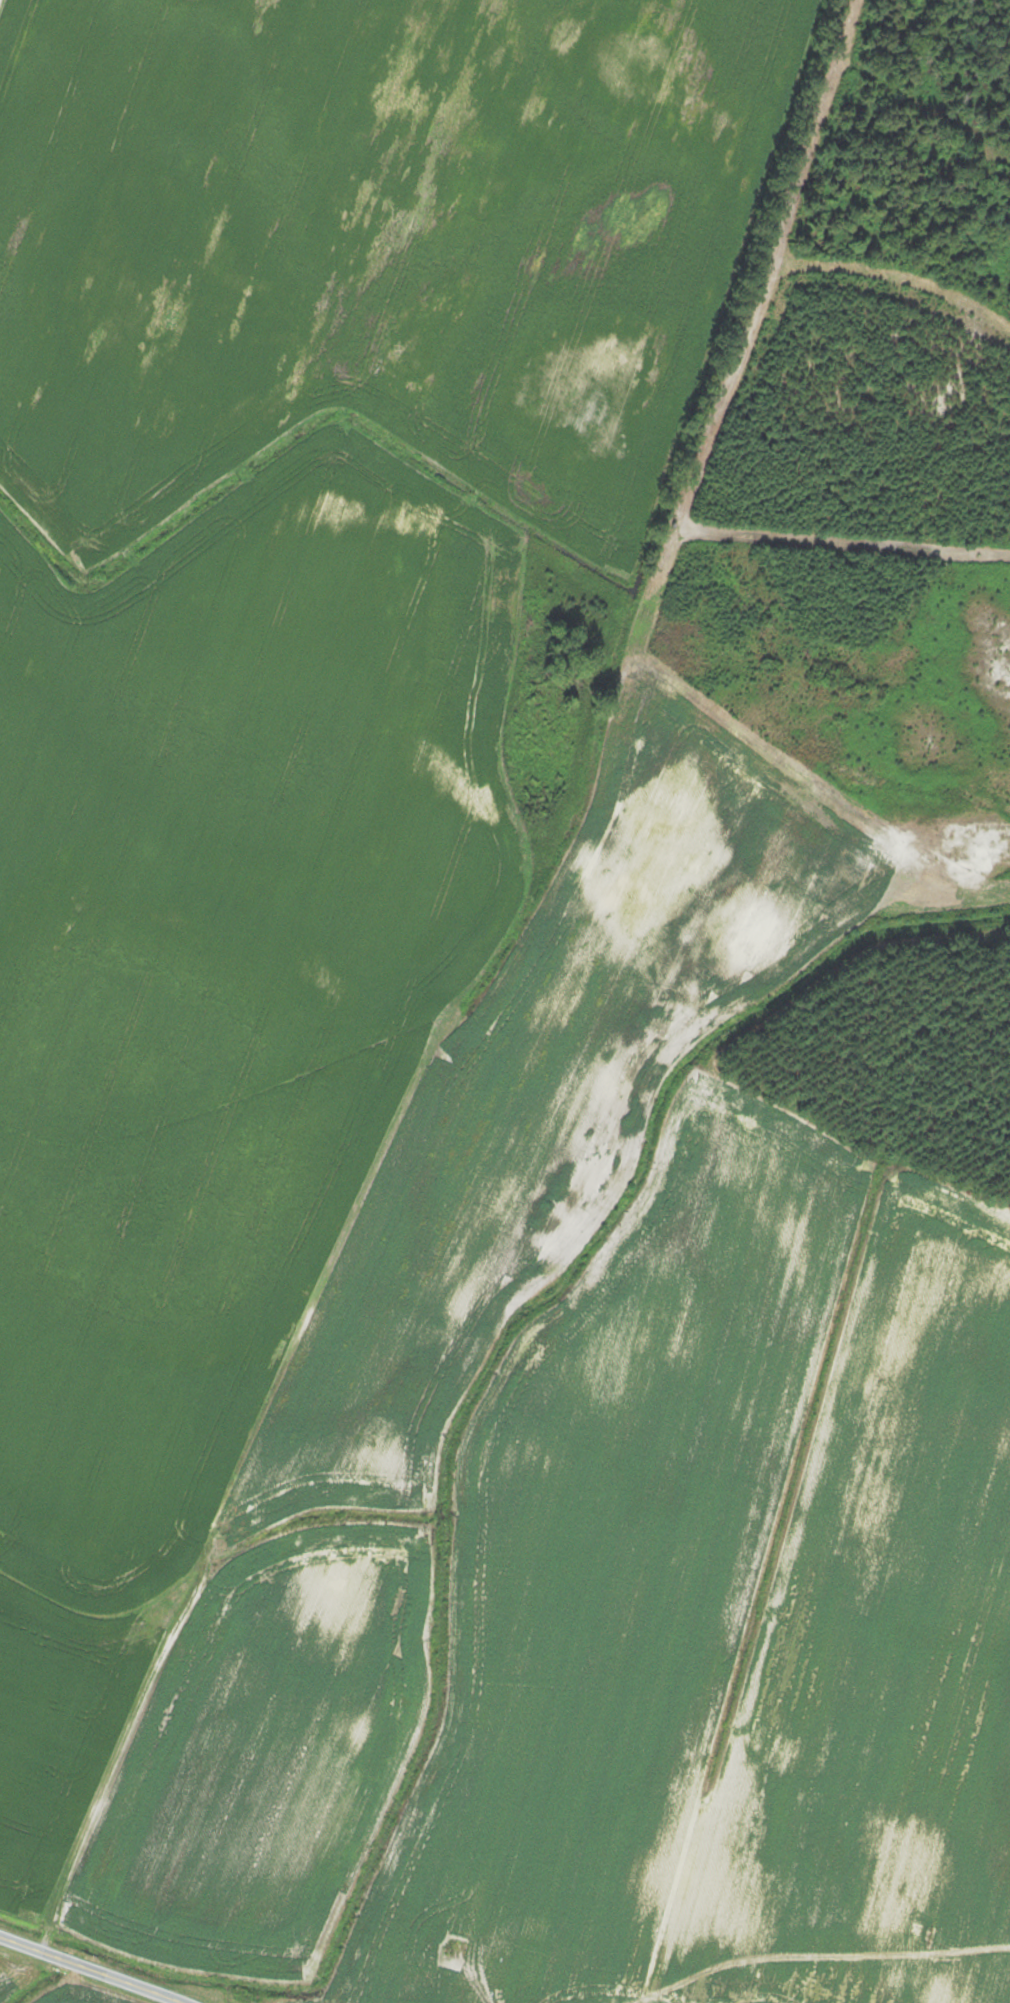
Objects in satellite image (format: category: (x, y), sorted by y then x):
power tower: (929, 1938)
power tower: (460, 1950)
road: (86, 1971)

